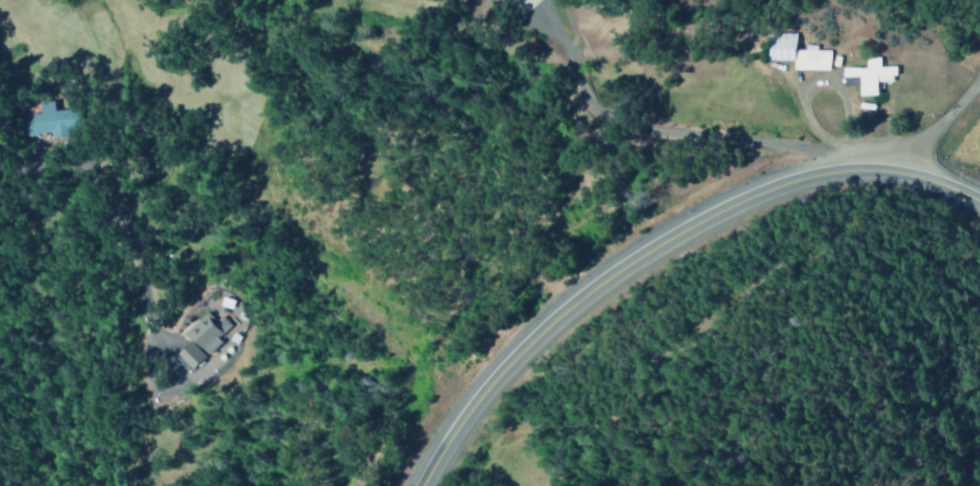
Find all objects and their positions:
building: (795, 53)
building: (869, 75)
building: (50, 120)
road: (940, 123)
road: (657, 241)
building: (200, 337)

